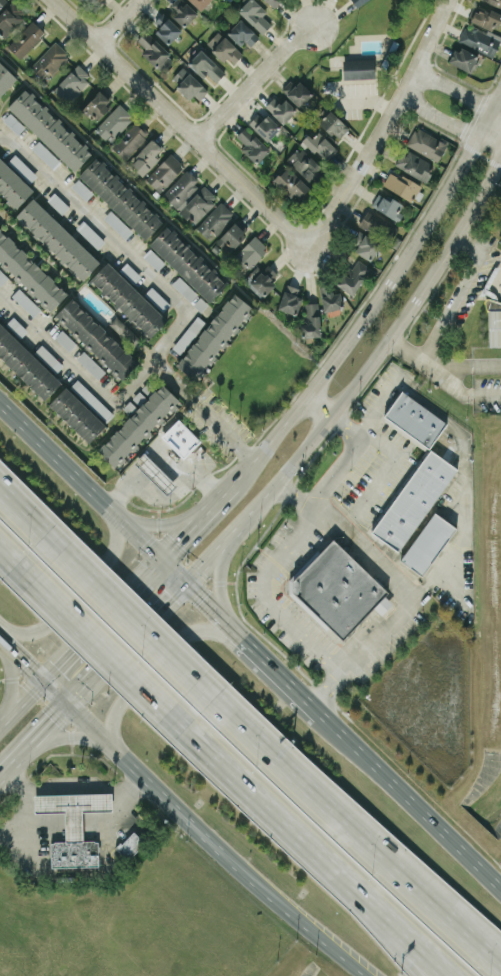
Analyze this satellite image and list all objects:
building: (98, 1)
building: (2, 2)
building: (272, 2)
building: (358, 2)
building: (493, 2)
building: (200, 3)
building: (182, 11)
building: (255, 14)
building: (483, 16)
building: (8, 21)
road: (118, 21)
building: (166, 28)
building: (243, 33)
building: (26, 39)
building: (478, 40)
building: (224, 48)
building: (155, 52)
building: (463, 58)
building: (49, 59)
building: (206, 67)
building: (358, 68)
building: (5, 78)
road: (254, 80)
building: (72, 82)
building: (189, 84)
road: (452, 88)
building: (297, 92)
road: (494, 95)
building: (97, 105)
building: (280, 109)
road: (494, 110)
road: (436, 117)
road: (480, 121)
building: (13, 123)
building: (114, 123)
road: (184, 123)
building: (333, 124)
road: (383, 125)
building: (264, 126)
building: (49, 129)
building: (129, 140)
road: (487, 142)
building: (426, 143)
building: (251, 144)
building: (320, 145)
building: (45, 154)
building: (146, 157)
building: (304, 163)
building: (414, 164)
building: (164, 172)
building: (291, 183)
building: (12, 185)
building: (401, 185)
building: (181, 187)
building: (81, 189)
building: (120, 198)
building: (57, 202)
building: (198, 204)
building: (387, 205)
building: (215, 220)
building: (117, 224)
building: (378, 224)
building: (89, 234)
building: (232, 234)
building: (57, 238)
road: (116, 241)
building: (364, 244)
building: (251, 252)
building: (153, 258)
building: (187, 263)
building: (29, 273)
building: (354, 276)
building: (2, 277)
building: (262, 283)
building: (184, 288)
road: (462, 289)
building: (157, 298)
building: (128, 299)
building: (290, 299)
building: (330, 299)
building: (25, 301)
road: (362, 315)
building: (311, 319)
building: (495, 328)
building: (188, 334)
building: (213, 335)
building: (96, 338)
building: (65, 339)
road: (381, 348)
road: (410, 351)
building: (49, 357)
building: (26, 364)
building: (90, 364)
road: (77, 367)
road: (434, 368)
road: (175, 378)
building: (92, 399)
road: (316, 406)
building: (77, 414)
building: (414, 419)
building: (137, 423)
road: (223, 426)
building: (180, 437)
road: (461, 450)
road: (344, 456)
building: (155, 473)
road: (184, 474)
road: (157, 475)
road: (145, 483)
road: (161, 496)
building: (413, 500)
road: (191, 516)
road: (24, 522)
road: (154, 522)
building: (427, 543)
road: (366, 546)
road: (209, 552)
traffic signals: (153, 554)
road: (14, 555)
road: (220, 580)
traffic signals: (182, 581)
road: (81, 590)
building: (338, 590)
road: (270, 596)
road: (127, 624)
road: (7, 630)
road: (131, 633)
road: (75, 634)
road: (376, 634)
road: (248, 646)
road: (108, 647)
road: (18, 656)
road: (157, 662)
traffic signals: (37, 675)
road: (10, 680)
traffic signals: (64, 703)
road: (40, 728)
road: (62, 739)
road: (73, 788)
road: (259, 795)
road: (117, 813)
road: (73, 823)
building: (73, 826)
road: (32, 830)
road: (200, 830)
road: (356, 830)
building: (130, 845)
road: (448, 906)
road: (374, 920)
road: (392, 920)

